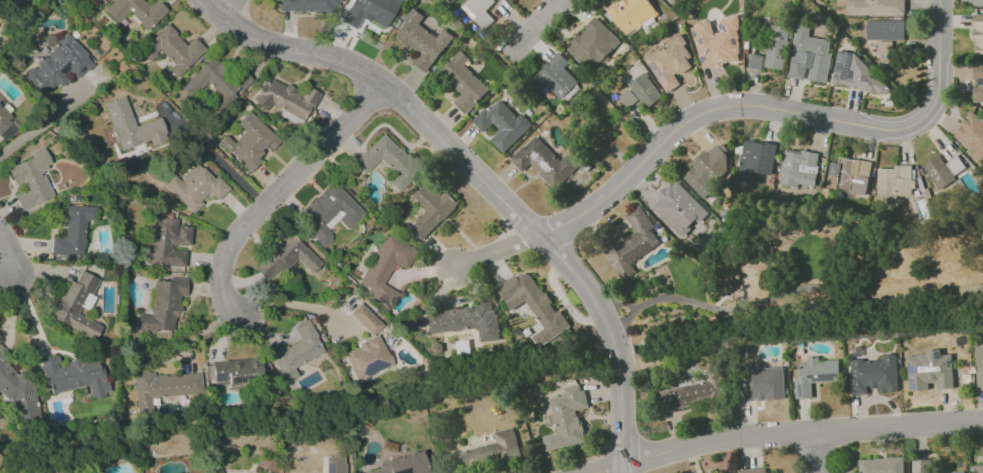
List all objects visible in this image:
building: (672, 0)
building: (978, 3)
building: (308, 6)
building: (875, 7)
road: (229, 9)
building: (136, 11)
building: (479, 11)
building: (638, 11)
building: (369, 12)
road: (542, 23)
building: (886, 30)
building: (978, 33)
building: (420, 40)
building: (717, 43)
building: (590, 44)
building: (775, 47)
building: (173, 50)
building: (808, 56)
building: (668, 62)
building: (754, 62)
building: (58, 65)
building: (857, 74)
building: (555, 76)
building: (217, 82)
building: (462, 82)
building: (977, 82)
road: (388, 90)
building: (644, 90)
building: (285, 98)
building: (627, 98)
road: (773, 108)
building: (4, 119)
road: (40, 123)
building: (505, 123)
building: (132, 126)
building: (971, 135)
building: (249, 142)
building: (755, 158)
road: (217, 159)
building: (544, 159)
building: (387, 161)
building: (797, 168)
building: (707, 169)
rooftop solar panel: (834, 169)
building: (937, 172)
building: (849, 175)
building: (30, 180)
building: (894, 181)
building: (194, 187)
road: (276, 193)
building: (677, 208)
building: (430, 209)
building: (329, 213)
building: (72, 231)
building: (165, 241)
building: (631, 242)
road: (494, 253)
building: (285, 258)
road: (10, 261)
building: (385, 268)
park: (800, 270)
road: (788, 296)
road: (283, 303)
building: (76, 305)
building: (533, 305)
building: (163, 306)
building: (365, 319)
building: (464, 321)
road: (612, 342)
building: (297, 351)
rooftop solar panel: (936, 355)
building: (367, 359)
rooftop solar panel: (947, 362)
building: (979, 363)
rooftop solar panel: (374, 366)
rooftop solar panel: (911, 370)
building: (928, 371)
building: (874, 374)
building: (74, 375)
building: (814, 375)
building: (233, 376)
rooftop solar panel: (219, 379)
rooftop solar panel: (761, 383)
rooftop solar panel: (912, 383)
building: (761, 384)
building: (162, 388)
building: (692, 392)
building: (17, 394)
rooftop solar panel: (28, 396)
building: (566, 418)
road: (789, 433)
road: (817, 452)
building: (486, 453)
building: (334, 463)
building: (402, 464)
building: (880, 465)
building: (925, 467)
building: (978, 468)
building: (751, 470)

